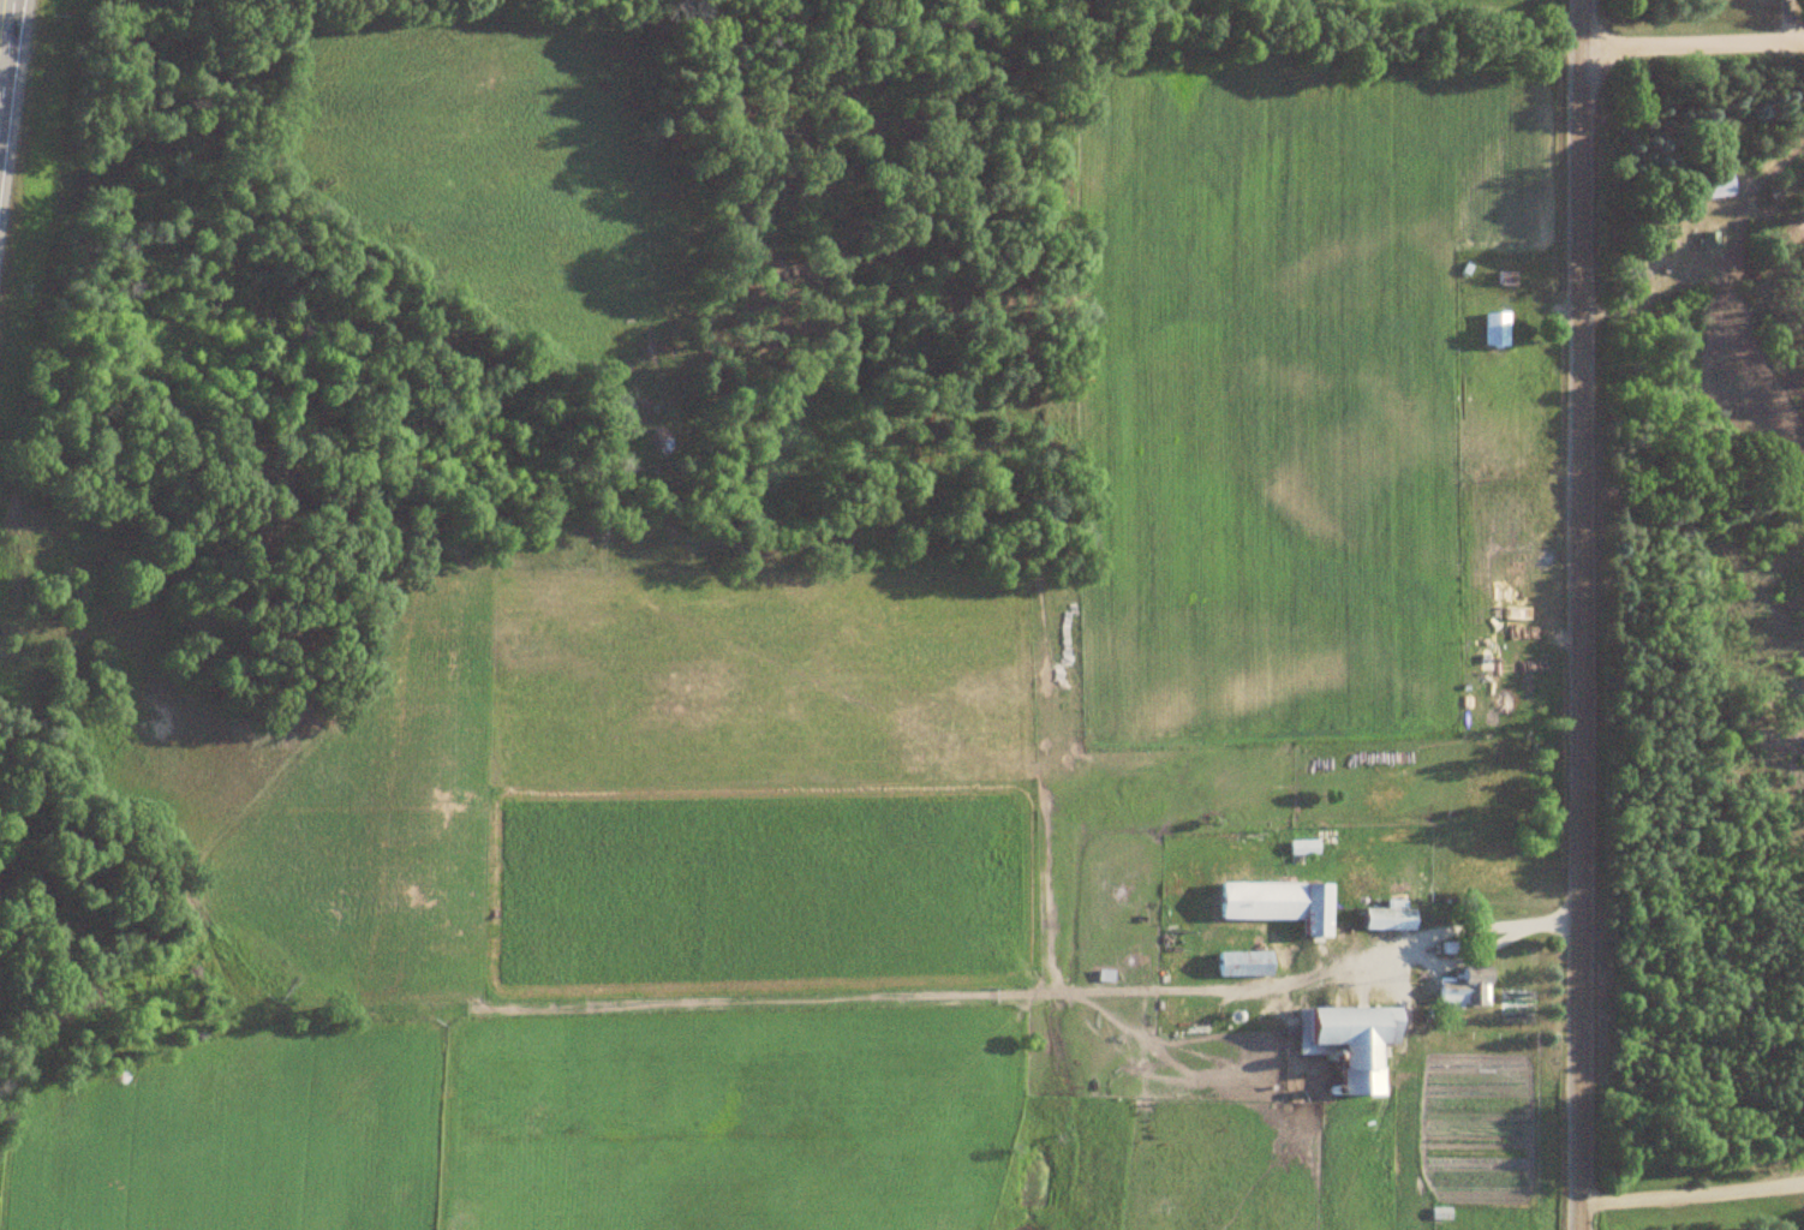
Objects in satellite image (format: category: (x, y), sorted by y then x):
road: (969, 25)
road: (6, 56)
building: (1716, 184)
building: (1710, 239)
building: (1505, 277)
road: (1648, 287)
building: (1495, 329)
road: (1567, 615)
building: (1318, 910)
building: (1391, 916)
building: (1242, 963)
building: (1467, 986)
building: (1364, 1047)

